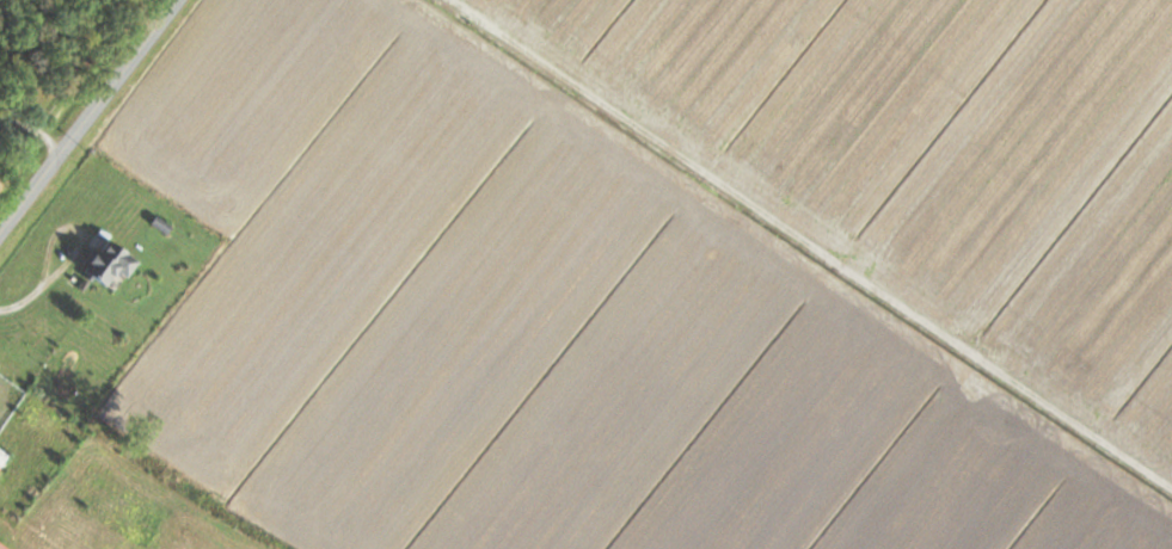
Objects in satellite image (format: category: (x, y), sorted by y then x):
road: (86, 117)
building: (105, 261)
building: (0, 548)

